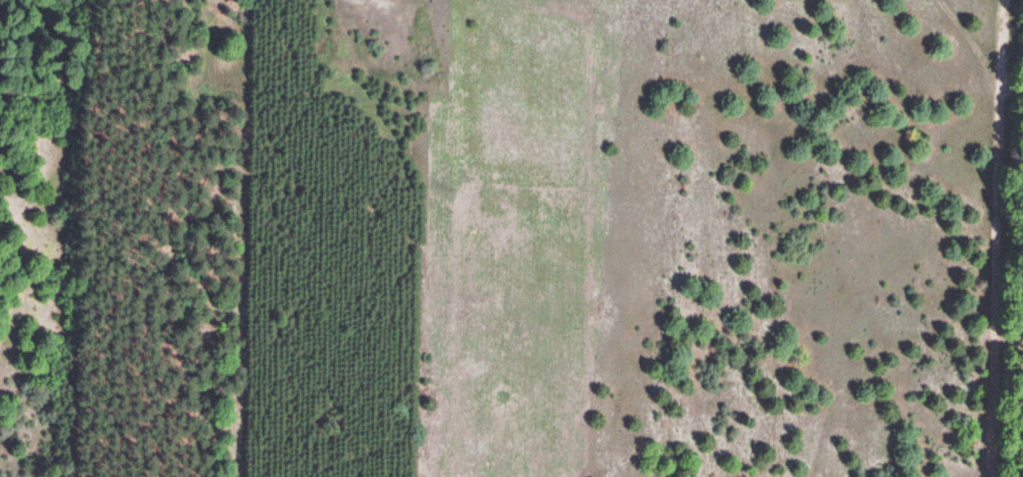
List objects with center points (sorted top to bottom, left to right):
road: (1002, 238)

